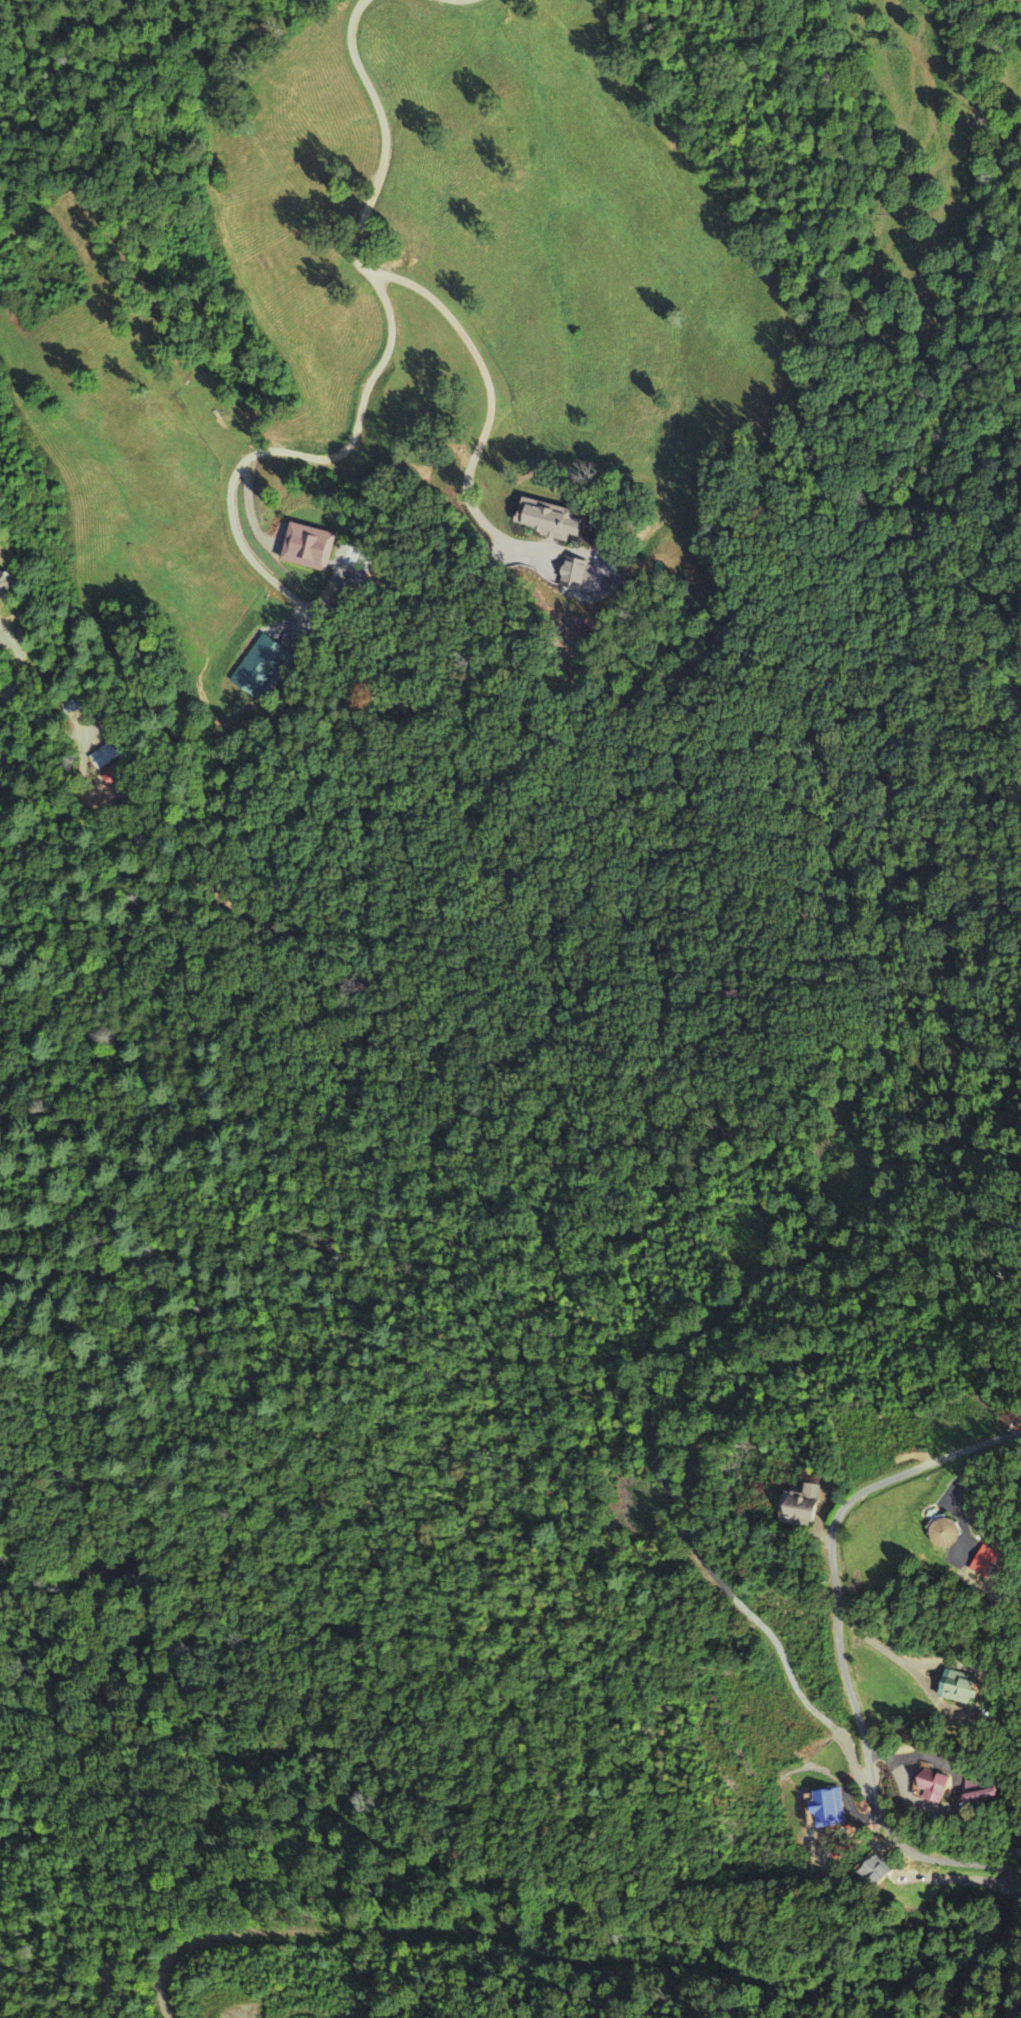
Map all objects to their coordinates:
building: (551, 521)
building: (308, 549)
road: (1009, 659)
building: (104, 757)
building: (811, 1507)
building: (948, 1534)
road: (842, 1655)
building: (960, 1690)
building: (937, 1787)
building: (833, 1808)
building: (882, 1873)
road: (986, 1964)
road: (1015, 1973)

